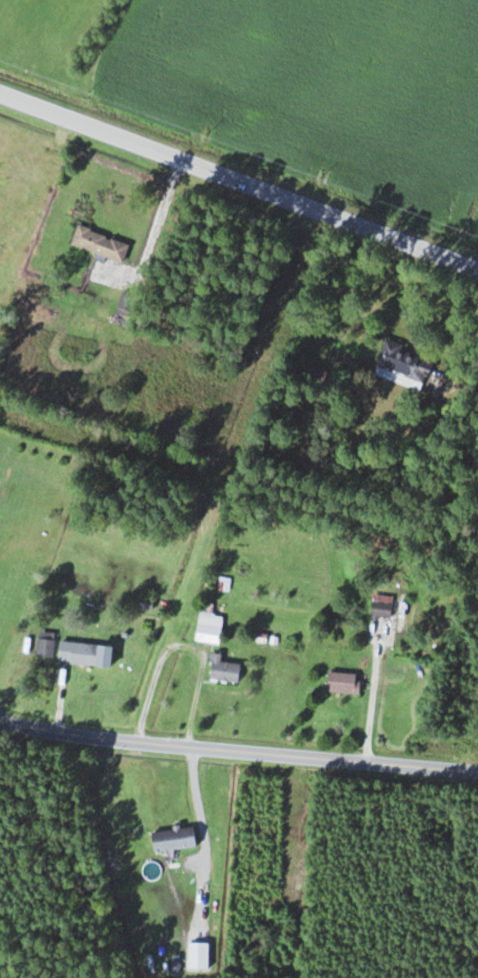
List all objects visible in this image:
road: (239, 180)
building: (100, 244)
building: (122, 320)
building: (404, 362)
building: (316, 374)
road: (462, 376)
building: (382, 606)
building: (209, 627)
building: (72, 650)
building: (223, 668)
building: (343, 682)
road: (238, 748)
building: (173, 838)

